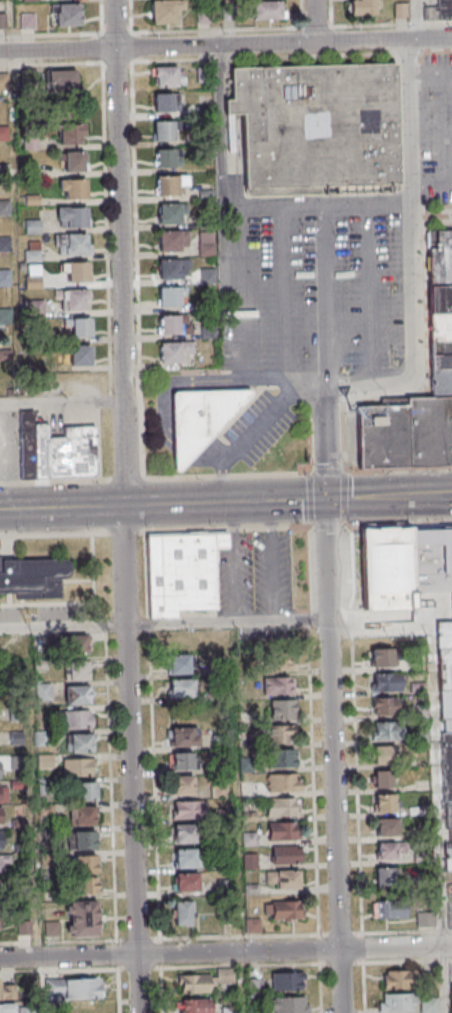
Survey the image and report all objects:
building: (362, 8)
building: (444, 9)
building: (399, 11)
building: (267, 12)
building: (227, 13)
building: (66, 14)
building: (164, 14)
building: (202, 16)
road: (412, 19)
building: (3, 20)
road: (315, 21)
road: (226, 45)
building: (168, 76)
building: (62, 79)
building: (4, 81)
building: (164, 102)
road: (414, 122)
parking lot: (435, 126)
road: (221, 128)
building: (316, 128)
building: (164, 131)
building: (72, 133)
building: (3, 134)
building: (165, 158)
building: (72, 161)
building: (169, 184)
building: (73, 188)
building: (4, 207)
road: (319, 207)
building: (169, 213)
building: (72, 217)
building: (172, 241)
building: (72, 244)
building: (206, 249)
building: (439, 257)
building: (172, 268)
building: (76, 271)
building: (5, 278)
parking lot: (308, 282)
road: (285, 293)
road: (369, 295)
building: (169, 296)
building: (439, 299)
building: (74, 300)
road: (323, 301)
building: (5, 315)
building: (174, 324)
building: (440, 327)
building: (79, 328)
road: (417, 335)
road: (237, 338)
building: (174, 351)
building: (440, 354)
building: (80, 355)
building: (441, 382)
road: (62, 404)
building: (200, 420)
building: (429, 431)
road: (254, 432)
parking lot: (248, 434)
building: (382, 436)
building: (26, 445)
building: (64, 453)
road: (5, 457)
road: (400, 469)
road: (329, 471)
road: (155, 478)
road: (433, 494)
traffic signals: (326, 497)
road: (349, 497)
road: (311, 498)
road: (207, 500)
road: (127, 506)
road: (400, 523)
road: (330, 524)
road: (125, 533)
road: (53, 534)
road: (270, 560)
road: (234, 561)
building: (430, 562)
building: (385, 572)
building: (181, 573)
parking lot: (254, 573)
building: (33, 576)
building: (451, 608)
parking lot: (64, 613)
parking lot: (9, 614)
road: (164, 624)
road: (380, 629)
building: (444, 638)
building: (76, 645)
building: (13, 646)
building: (381, 657)
building: (179, 664)
building: (77, 671)
building: (444, 672)
building: (385, 682)
building: (277, 685)
building: (180, 687)
building: (43, 691)
building: (77, 694)
road: (331, 704)
building: (384, 705)
building: (445, 706)
building: (283, 709)
building: (79, 718)
building: (445, 727)
building: (387, 731)
building: (281, 734)
building: (183, 737)
building: (79, 742)
building: (382, 755)
building: (282, 758)
building: (182, 761)
building: (79, 767)
building: (446, 768)
building: (0, 770)
building: (383, 779)
building: (284, 782)
building: (183, 785)
road: (436, 787)
building: (220, 789)
building: (247, 789)
building: (86, 791)
road: (112, 793)
building: (3, 794)
building: (383, 803)
building: (281, 807)
building: (188, 810)
building: (0, 815)
building: (82, 815)
building: (447, 818)
building: (386, 827)
building: (282, 831)
building: (184, 833)
building: (450, 839)
building: (1, 840)
building: (85, 840)
building: (386, 851)
building: (285, 854)
building: (187, 858)
building: (448, 859)
building: (4, 863)
building: (86, 864)
building: (388, 877)
building: (282, 879)
building: (186, 882)
building: (87, 885)
building: (282, 909)
building: (390, 909)
building: (183, 913)
building: (83, 918)
building: (425, 920)
building: (24, 928)
building: (52, 928)
road: (158, 935)
road: (226, 953)
road: (407, 960)
parking lot: (450, 972)
building: (225, 975)
building: (399, 979)
road: (444, 979)
building: (287, 981)
building: (195, 983)
road: (364, 987)
building: (73, 989)
building: (5, 990)
building: (451, 995)
building: (398, 1002)
building: (288, 1004)
building: (194, 1005)
building: (429, 1005)
building: (7, 1008)
building: (229, 1010)

